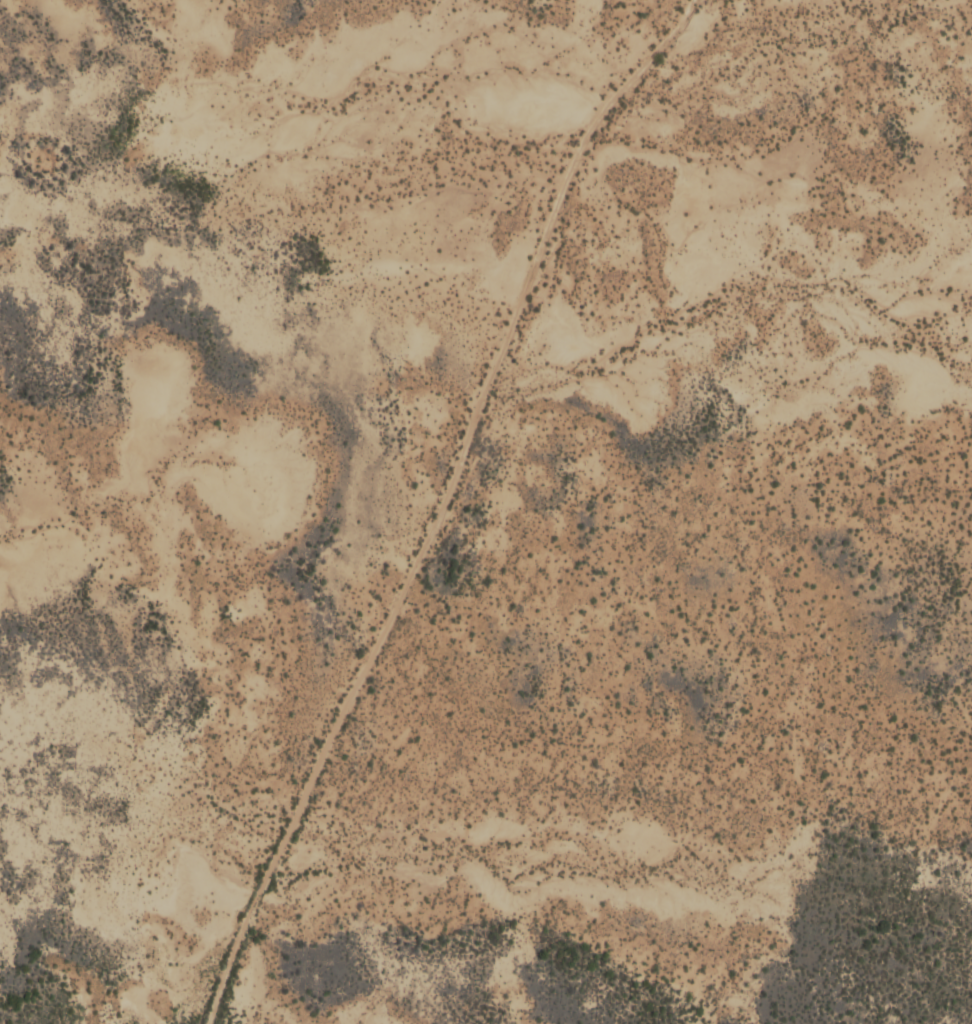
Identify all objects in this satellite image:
road: (407, 502)

